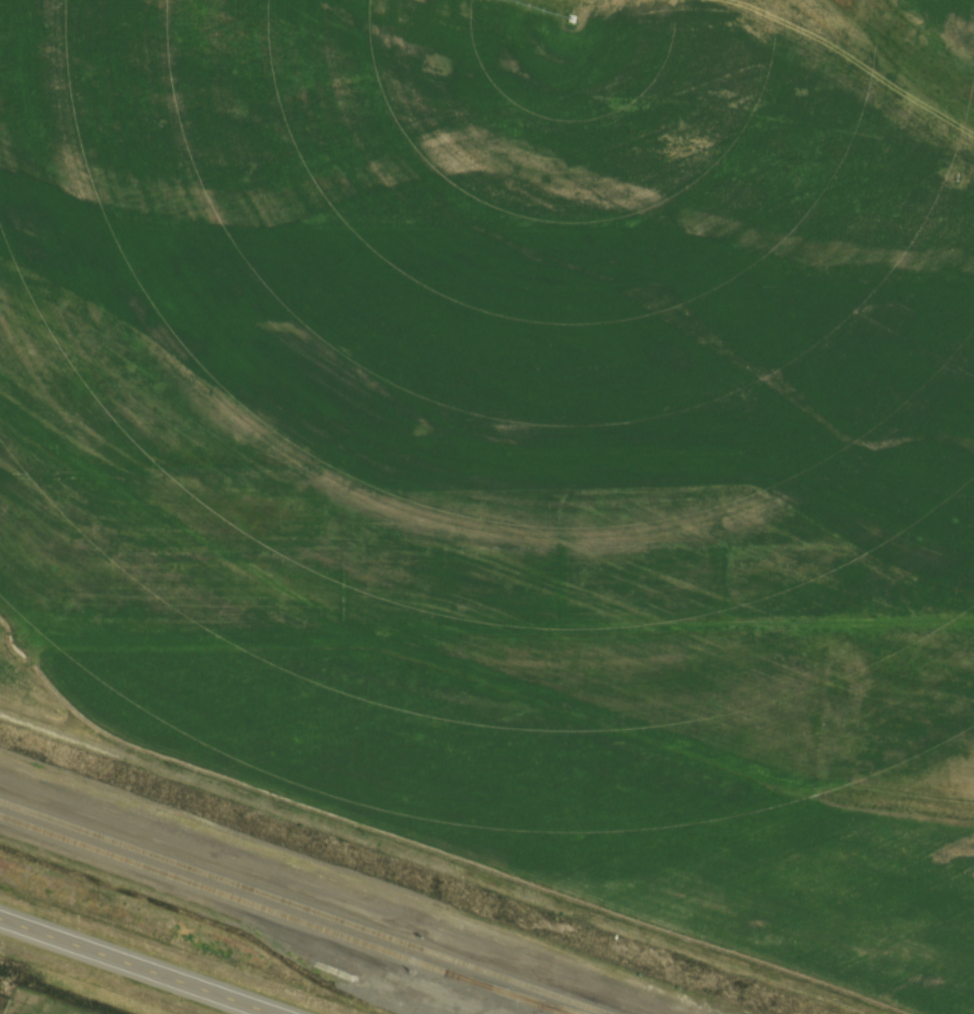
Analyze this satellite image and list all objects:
railway: (303, 907)
railway: (282, 915)
road: (137, 966)
railway: (510, 992)

